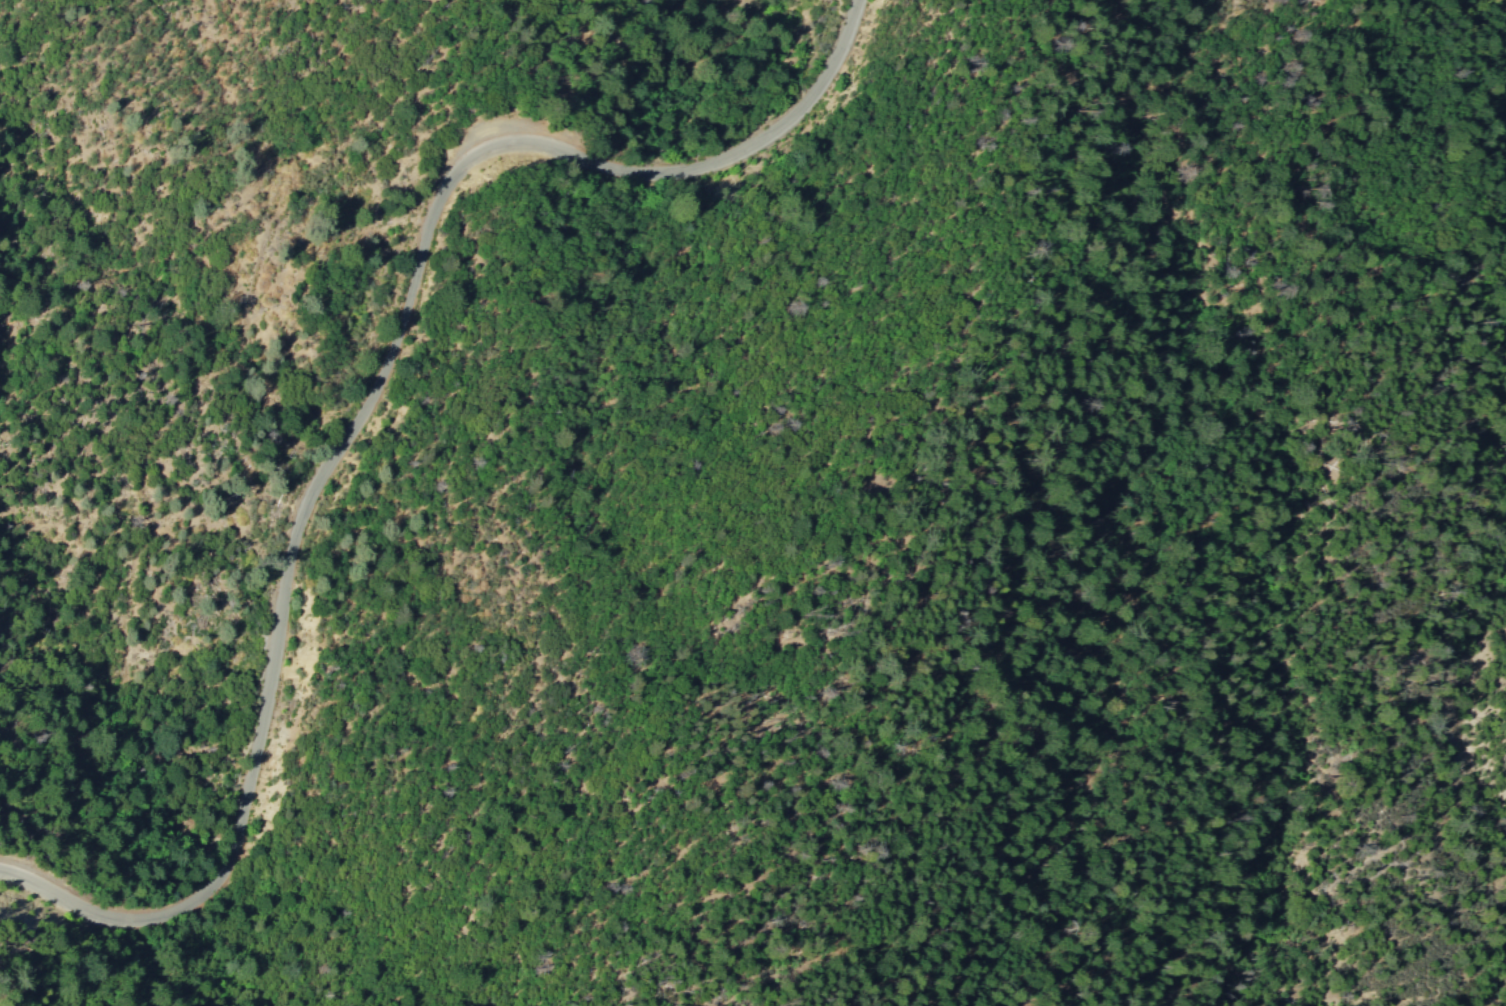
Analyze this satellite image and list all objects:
road: (378, 416)

